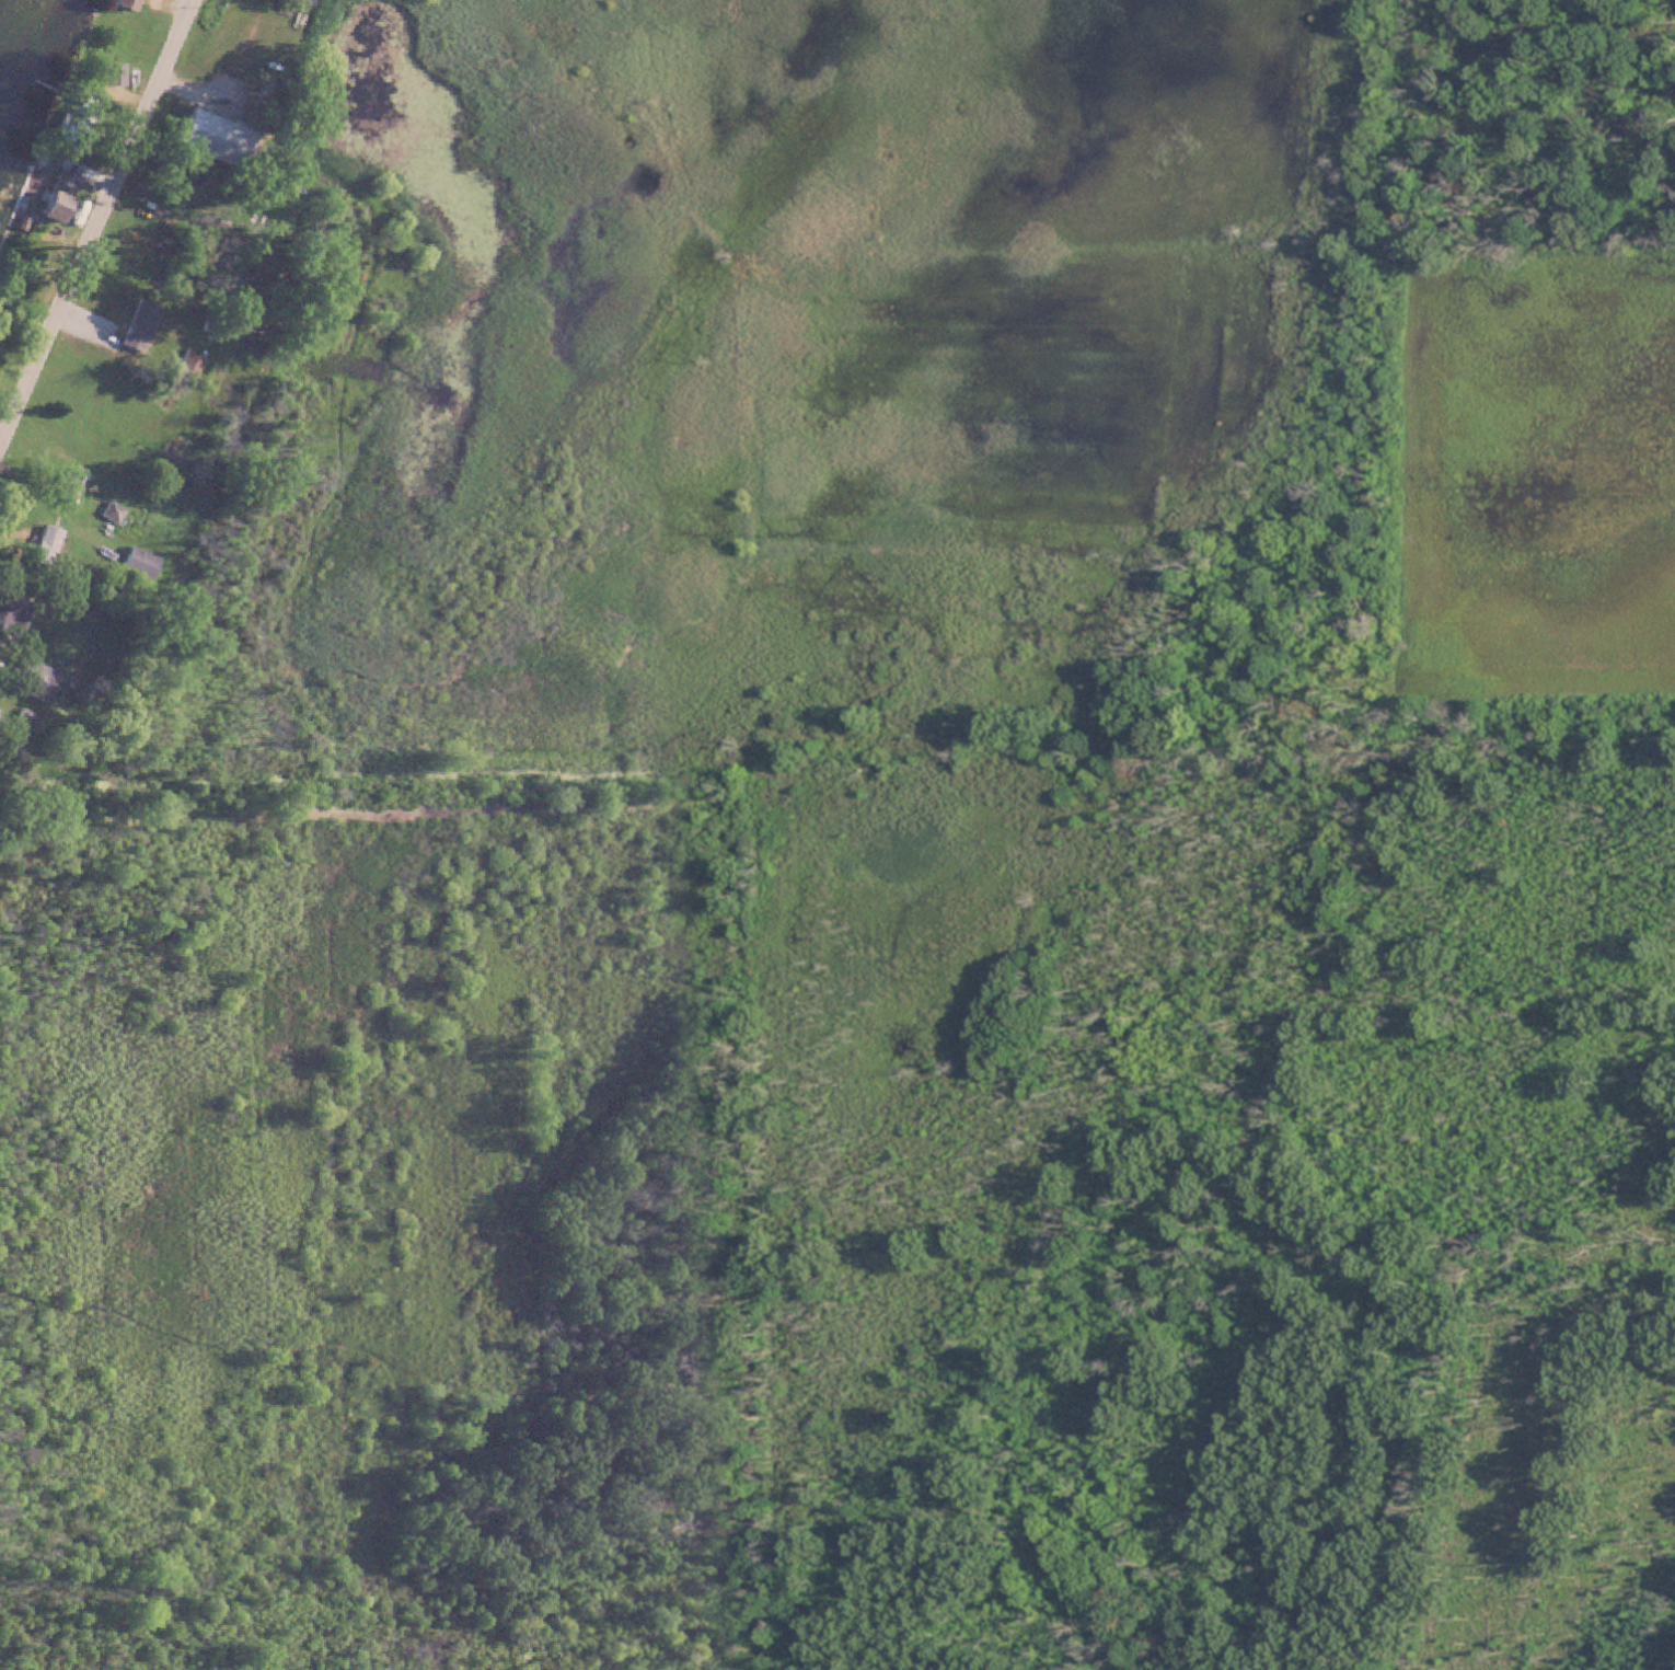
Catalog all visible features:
building: (126, 5)
building: (112, 77)
building: (77, 119)
building: (209, 139)
building: (58, 196)
road: (102, 231)
building: (136, 327)
building: (186, 369)
building: (70, 484)
building: (112, 514)
building: (43, 546)
building: (12, 613)
building: (32, 680)
building: (26, 719)

